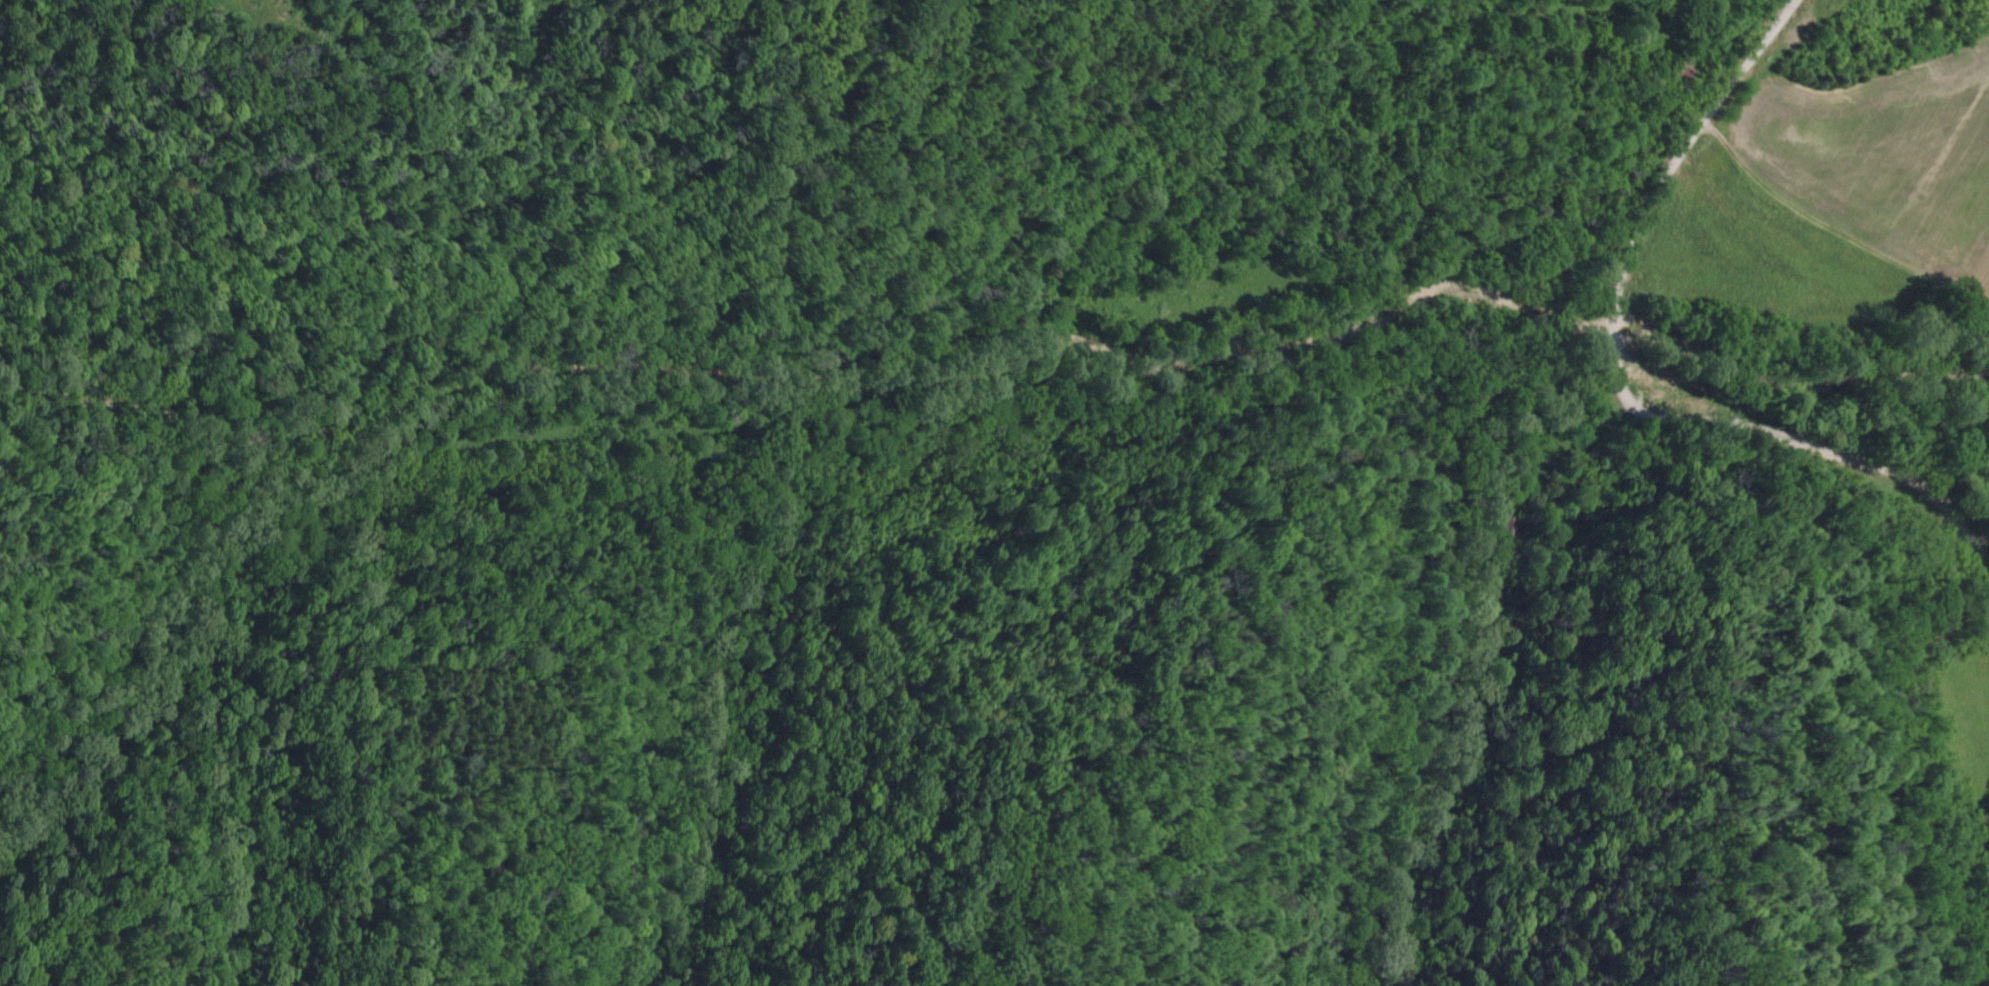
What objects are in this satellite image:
crop: (1828, 202)
road: (1610, 374)

